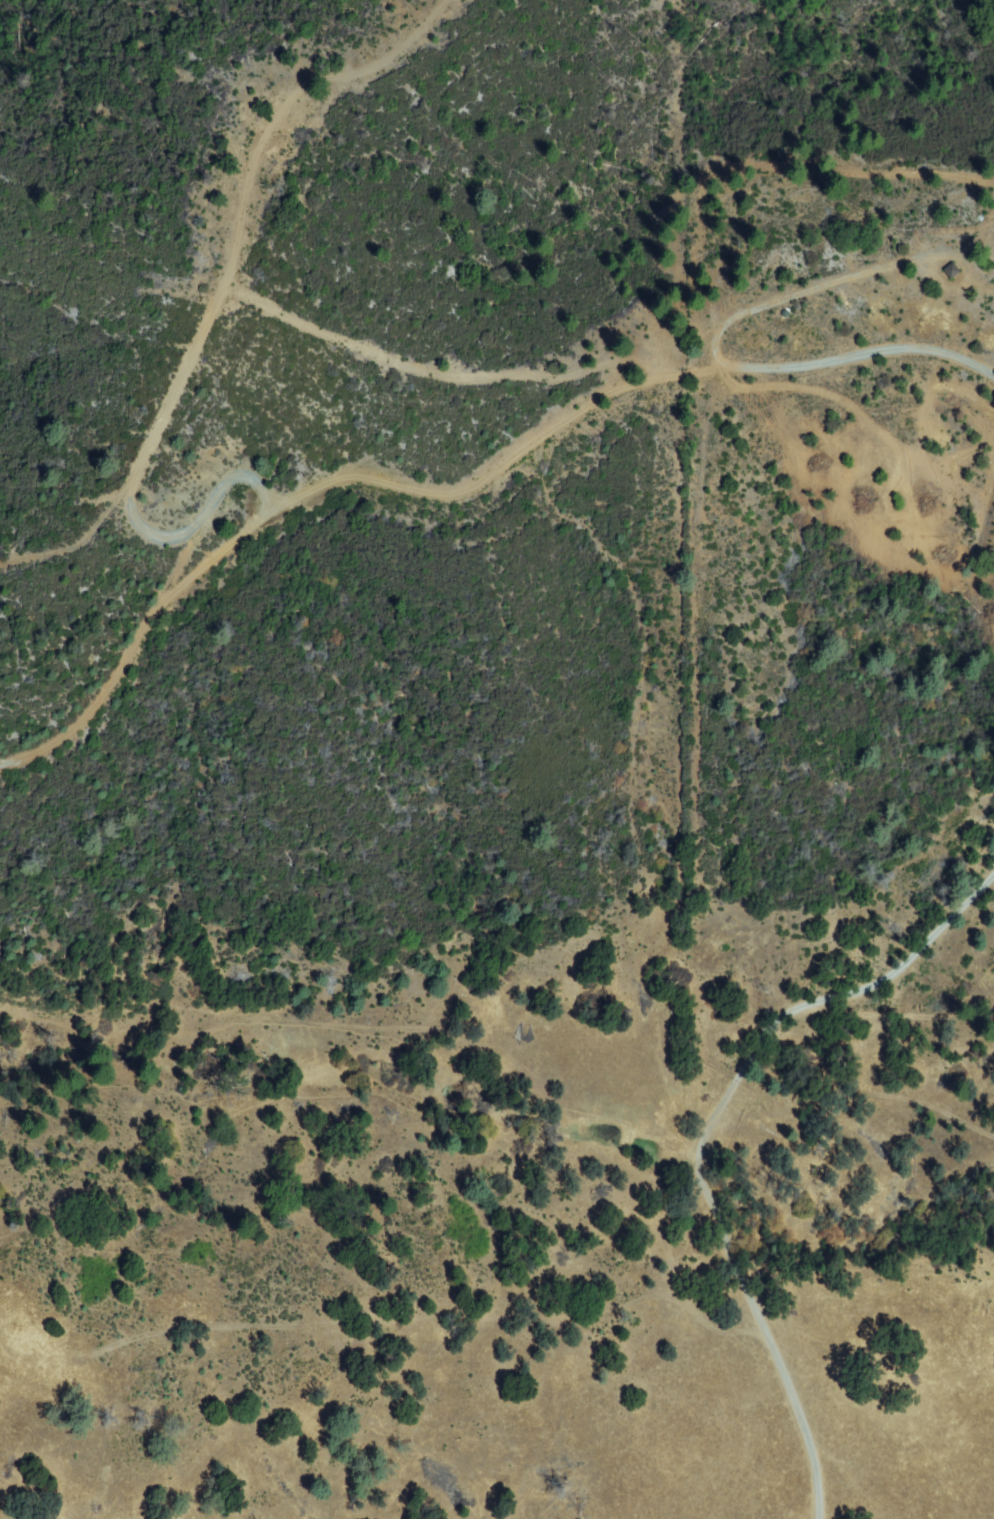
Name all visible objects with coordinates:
building: (948, 271)
road: (230, 279)
road: (857, 350)
road: (469, 368)
road: (905, 1012)
road: (711, 1140)

